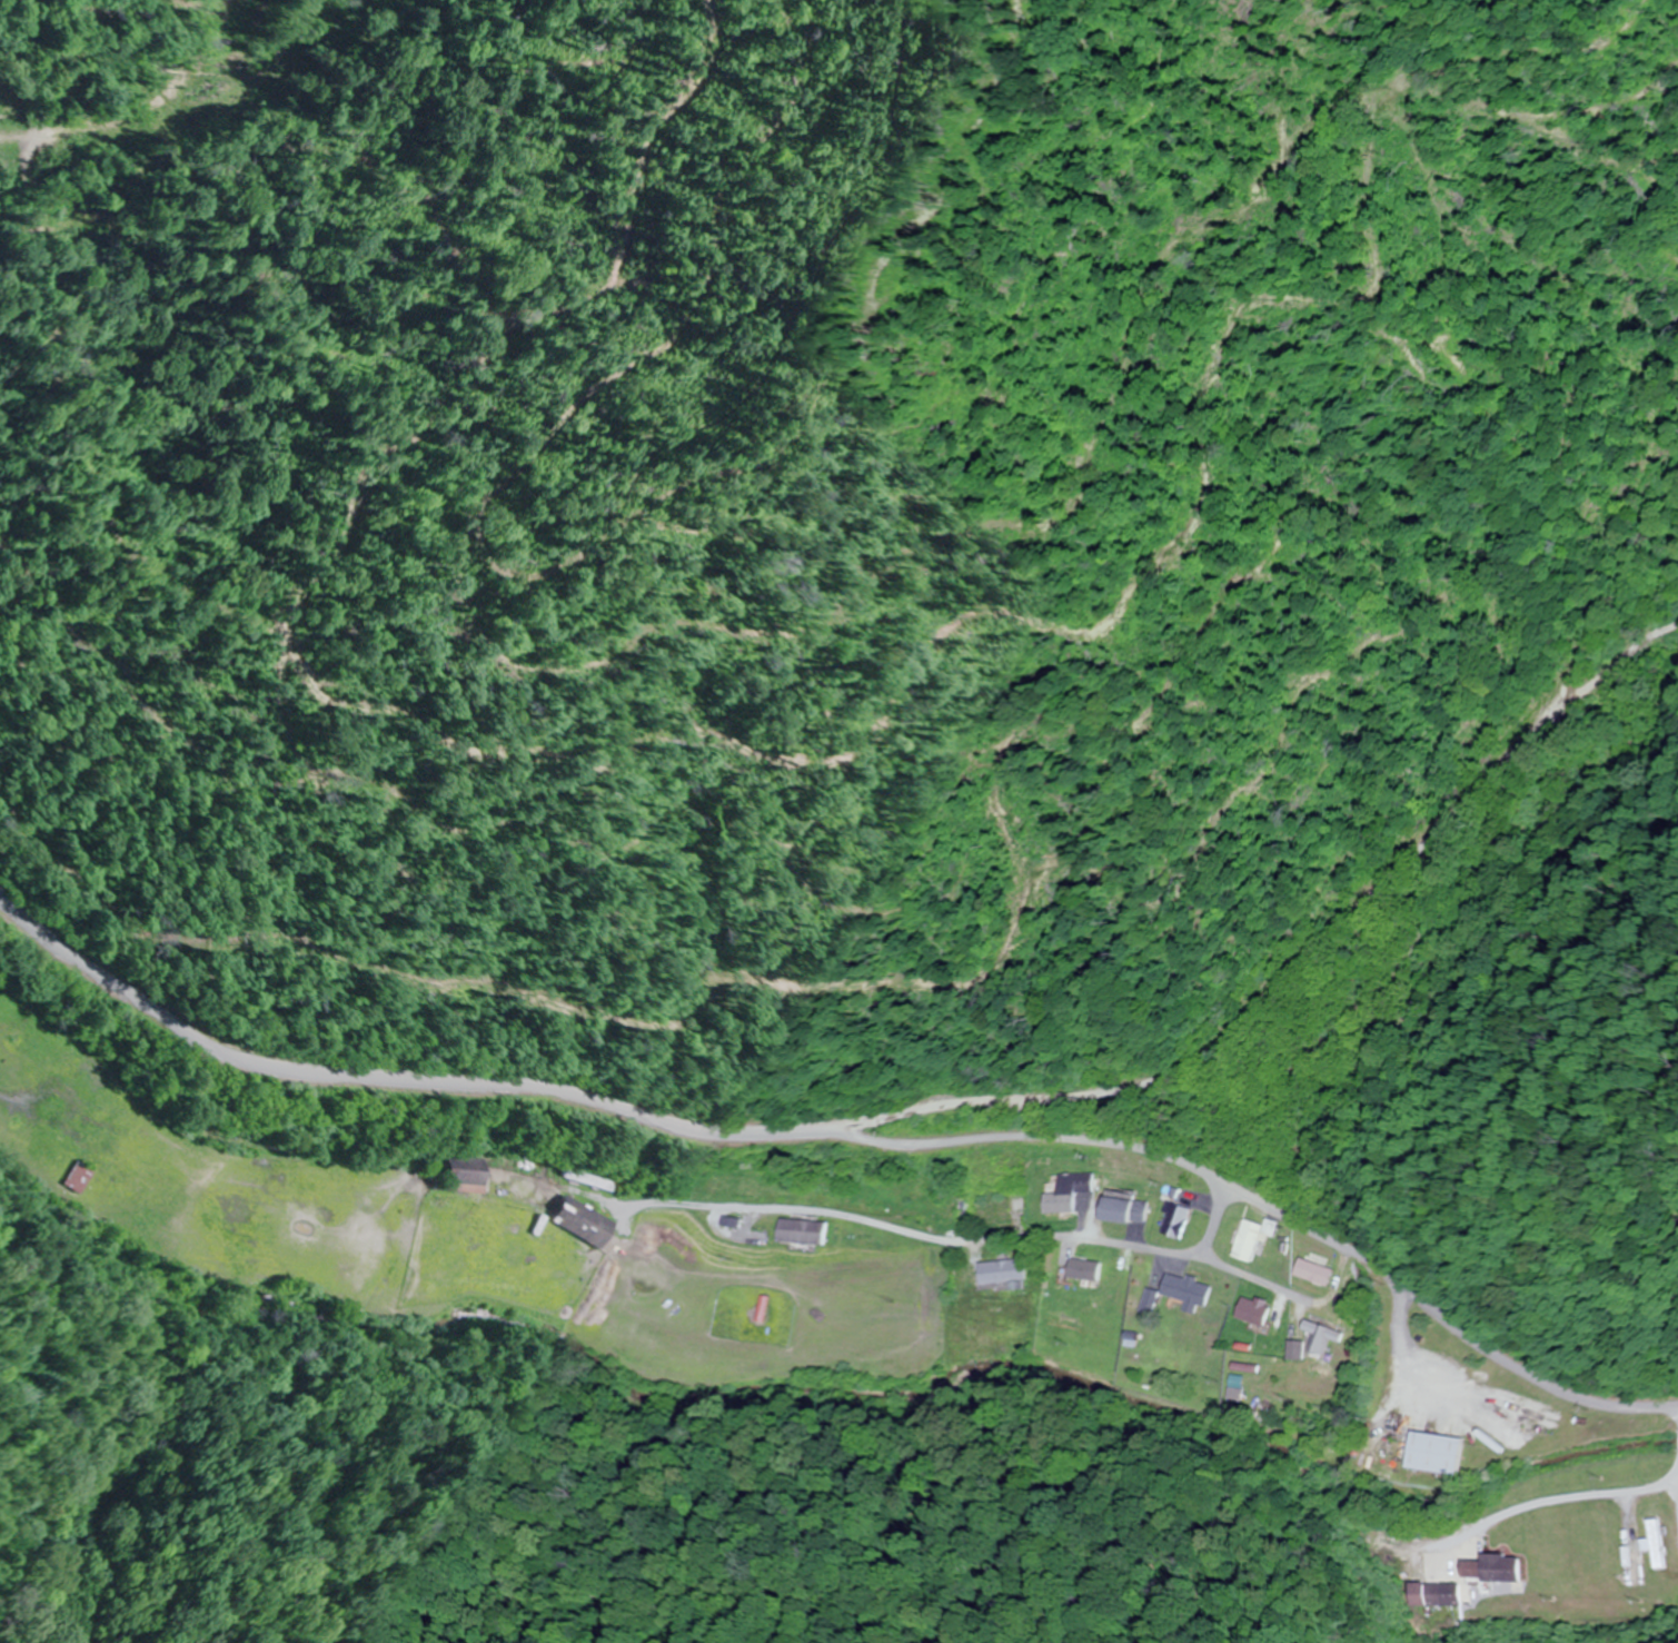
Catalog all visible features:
road: (1605, 690)
road: (1348, 928)
road: (847, 1136)
building: (468, 1172)
building: (1064, 1192)
building: (984, 1207)
road: (791, 1210)
building: (1120, 1210)
building: (1172, 1220)
building: (580, 1221)
building: (770, 1229)
road: (1114, 1244)
building: (1082, 1269)
building: (1000, 1273)
building: (1312, 1273)
building: (1178, 1294)
building: (1252, 1310)
building: (1323, 1337)
building: (1294, 1352)
building: (1436, 1454)
road: (1630, 1483)
building: (1658, 1544)
building: (1497, 1568)
building: (1434, 1594)

